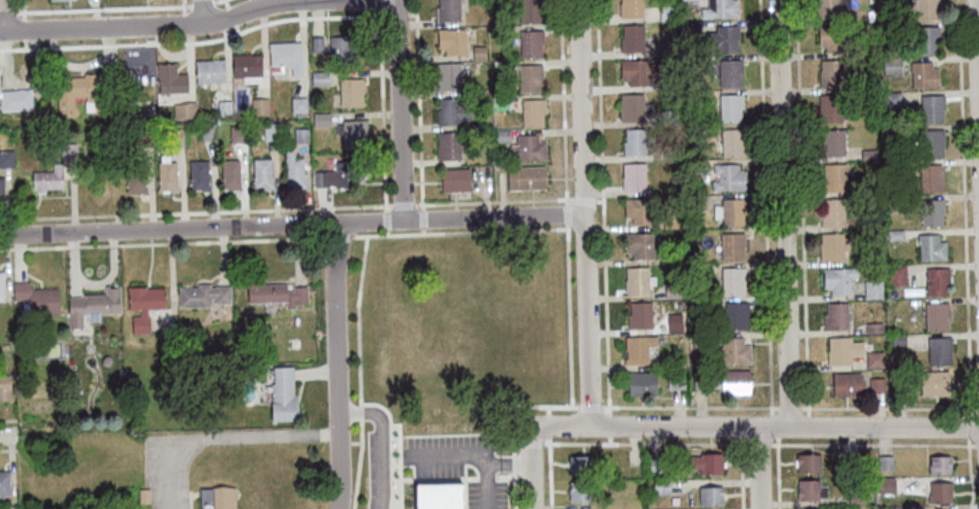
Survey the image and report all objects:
road: (217, 0)
road: (182, 3)
road: (200, 3)
road: (219, 4)
road: (379, 5)
road: (22, 6)
building: (630, 8)
building: (831, 8)
building: (926, 8)
road: (103, 9)
building: (720, 9)
building: (448, 10)
building: (529, 10)
road: (201, 12)
road: (8, 13)
road: (411, 13)
building: (666, 13)
road: (221, 15)
road: (397, 15)
road: (5, 16)
building: (869, 16)
road: (174, 25)
building: (690, 28)
road: (223, 30)
building: (631, 38)
building: (831, 38)
building: (722, 39)
building: (927, 39)
building: (451, 41)
road: (195, 42)
building: (531, 43)
building: (317, 44)
road: (977, 47)
building: (666, 48)
building: (343, 49)
building: (866, 49)
building: (478, 52)
building: (285, 56)
building: (495, 63)
building: (891, 66)
building: (247, 67)
building: (209, 70)
building: (636, 71)
building: (730, 73)
building: (830, 73)
building: (923, 75)
building: (448, 76)
building: (529, 77)
building: (319, 78)
building: (171, 79)
building: (667, 82)
building: (87, 92)
building: (348, 92)
building: (694, 98)
building: (891, 99)
building: (15, 100)
road: (562, 102)
building: (298, 104)
road: (418, 104)
building: (259, 106)
building: (224, 107)
building: (633, 107)
building: (730, 107)
building: (832, 108)
building: (931, 108)
road: (382, 109)
building: (182, 110)
road: (400, 110)
building: (451, 111)
building: (532, 112)
building: (667, 116)
building: (321, 119)
building: (207, 131)
building: (270, 131)
building: (237, 133)
building: (352, 133)
building: (891, 134)
building: (143, 135)
building: (301, 135)
building: (502, 135)
building: (174, 137)
building: (636, 142)
building: (732, 142)
building: (931, 142)
building: (833, 143)
building: (448, 145)
building: (527, 148)
building: (68, 151)
building: (670, 152)
building: (867, 154)
building: (6, 158)
building: (693, 167)
building: (293, 168)
building: (892, 171)
building: (262, 173)
building: (231, 174)
building: (166, 175)
building: (199, 175)
building: (341, 175)
building: (633, 176)
building: (135, 177)
building: (526, 177)
building: (728, 177)
building: (833, 177)
building: (102, 178)
building: (930, 178)
building: (48, 179)
building: (455, 179)
building: (1, 186)
road: (500, 201)
building: (697, 202)
road: (601, 203)
road: (404, 204)
road: (800, 204)
building: (892, 204)
road: (764, 207)
road: (963, 207)
building: (638, 210)
building: (729, 211)
road: (196, 212)
road: (782, 212)
building: (832, 212)
building: (931, 212)
road: (566, 213)
road: (584, 213)
road: (493, 218)
road: (423, 219)
road: (386, 220)
building: (672, 221)
road: (201, 228)
road: (423, 231)
road: (486, 231)
building: (693, 233)
building: (895, 235)
road: (195, 242)
building: (639, 245)
building: (731, 246)
building: (833, 246)
building: (931, 247)
building: (672, 257)
building: (897, 275)
building: (838, 279)
building: (638, 280)
building: (732, 281)
building: (937, 281)
building: (1, 285)
building: (672, 290)
building: (873, 290)
building: (276, 293)
building: (203, 295)
building: (37, 299)
building: (691, 302)
building: (678, 304)
building: (143, 305)
building: (93, 306)
building: (694, 310)
road: (568, 314)
building: (640, 315)
building: (735, 316)
building: (836, 316)
building: (936, 316)
building: (873, 327)
building: (898, 339)
building: (699, 340)
building: (638, 348)
building: (842, 349)
building: (732, 351)
building: (939, 351)
building: (874, 360)
road: (336, 366)
building: (675, 380)
building: (700, 380)
building: (898, 381)
building: (735, 382)
building: (642, 383)
building: (935, 383)
building: (846, 384)
building: (876, 384)
building: (4, 388)
building: (283, 395)
road: (516, 406)
road: (590, 406)
road: (689, 406)
road: (788, 408)
road: (888, 408)
road: (978, 409)
road: (365, 413)
road: (7, 420)
road: (755, 425)
road: (773, 425)
road: (969, 426)
road: (7, 437)
road: (219, 437)
road: (516, 444)
road: (530, 444)
road: (644, 444)
road: (758, 444)
road: (9, 445)
road: (872, 445)
road: (977, 445)
road: (5, 450)
parking lot: (438, 453)
road: (472, 455)
building: (849, 461)
road: (509, 462)
building: (707, 462)
building: (809, 463)
building: (885, 463)
building: (580, 464)
building: (655, 465)
building: (939, 465)
road: (759, 466)
road: (532, 468)
road: (379, 470)
road: (777, 472)
road: (969, 473)
building: (906, 482)
building: (4, 483)
building: (661, 487)
building: (579, 490)
building: (810, 490)
building: (939, 492)
parking lot: (486, 495)
building: (710, 495)
building: (143, 496)
building: (440, 496)
building: (217, 499)
building: (857, 499)
building: (9, 507)
building: (900, 508)

